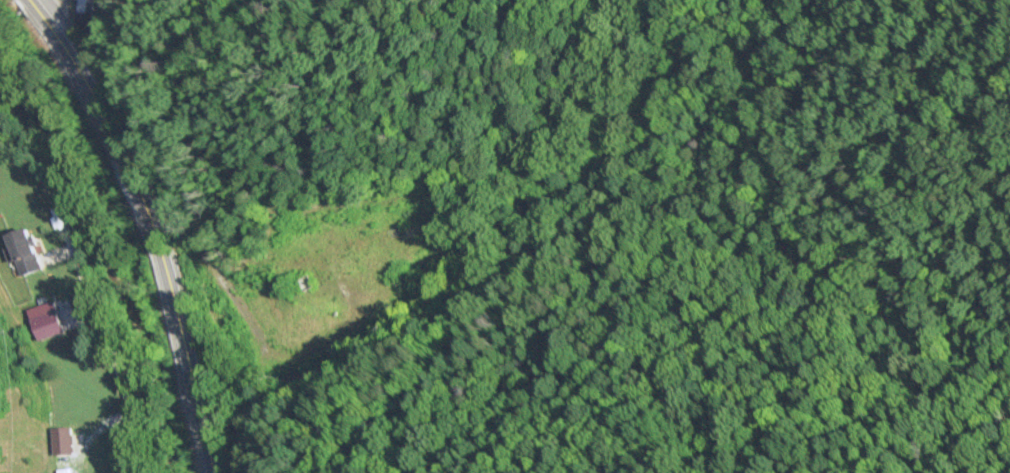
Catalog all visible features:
building: (86, 6)
road: (152, 225)
building: (22, 252)
building: (311, 280)

